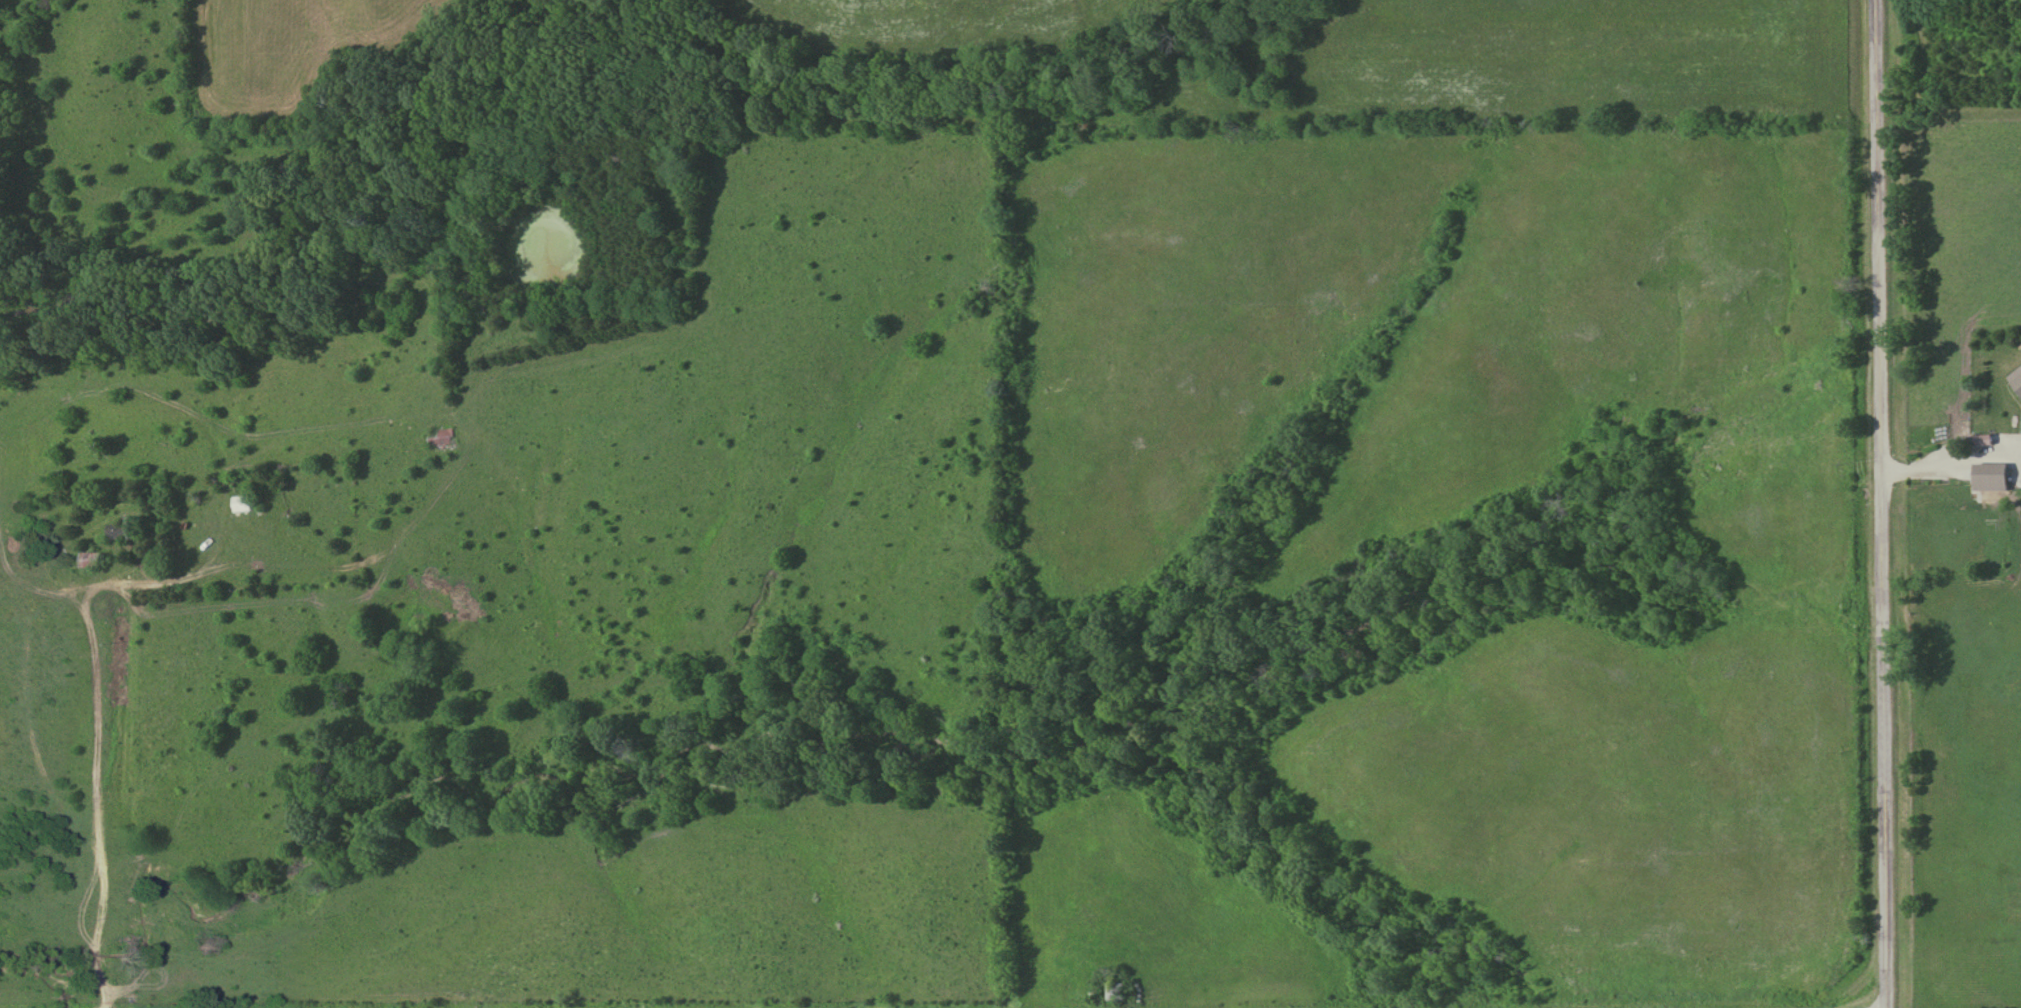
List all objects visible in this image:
building: (2016, 380)
building: (438, 439)
building: (1988, 483)
road: (1877, 504)
building: (239, 505)
building: (123, 530)
road: (104, 794)
building: (1114, 992)

